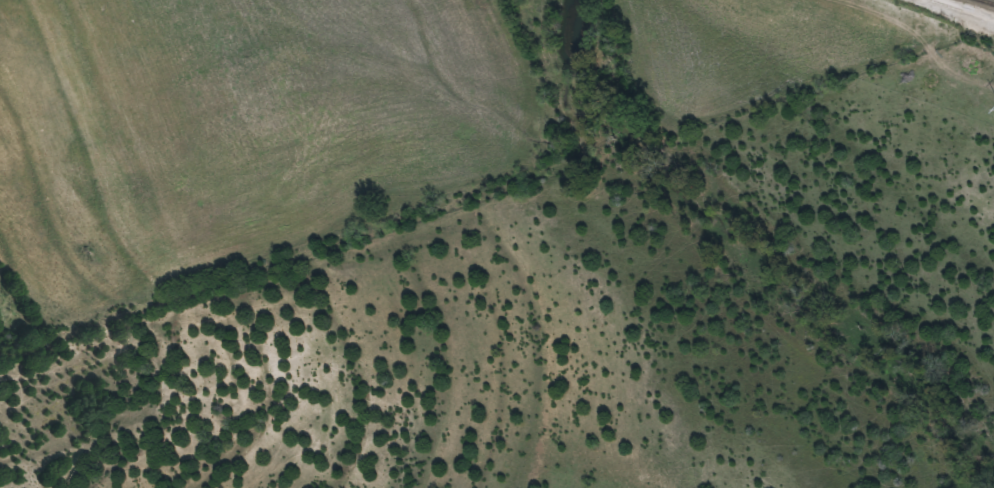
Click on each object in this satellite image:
railway: (990, 1)
power tower: (916, 25)

